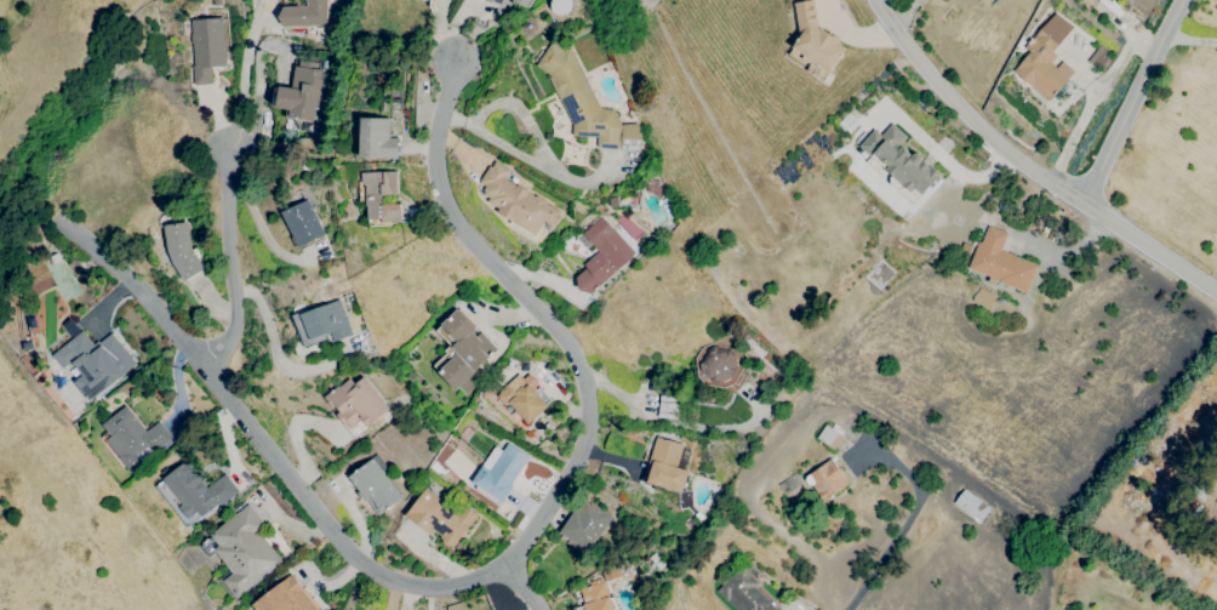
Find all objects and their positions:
building: (521, 1)
building: (499, 2)
building: (560, 6)
road: (903, 10)
building: (304, 15)
building: (815, 38)
road: (1192, 40)
building: (208, 47)
building: (1045, 57)
road: (241, 73)
building: (301, 93)
building: (581, 98)
road: (1133, 99)
road: (516, 109)
building: (377, 139)
road: (527, 159)
road: (942, 159)
building: (898, 160)
road: (1028, 166)
building: (381, 195)
building: (516, 200)
building: (303, 222)
road: (257, 224)
building: (183, 250)
building: (602, 255)
road: (227, 258)
building: (1001, 261)
road: (539, 313)
building: (327, 321)
road: (274, 344)
building: (464, 349)
building: (95, 361)
building: (719, 364)
building: (522, 397)
building: (358, 403)
building: (665, 407)
road: (680, 422)
building: (133, 437)
building: (827, 437)
road: (268, 445)
building: (667, 464)
building: (501, 472)
building: (827, 479)
building: (375, 484)
building: (198, 489)
building: (792, 491)
building: (440, 517)
building: (585, 525)
building: (245, 549)
road: (886, 551)
road: (522, 587)
building: (744, 592)
building: (595, 595)
building: (285, 597)

